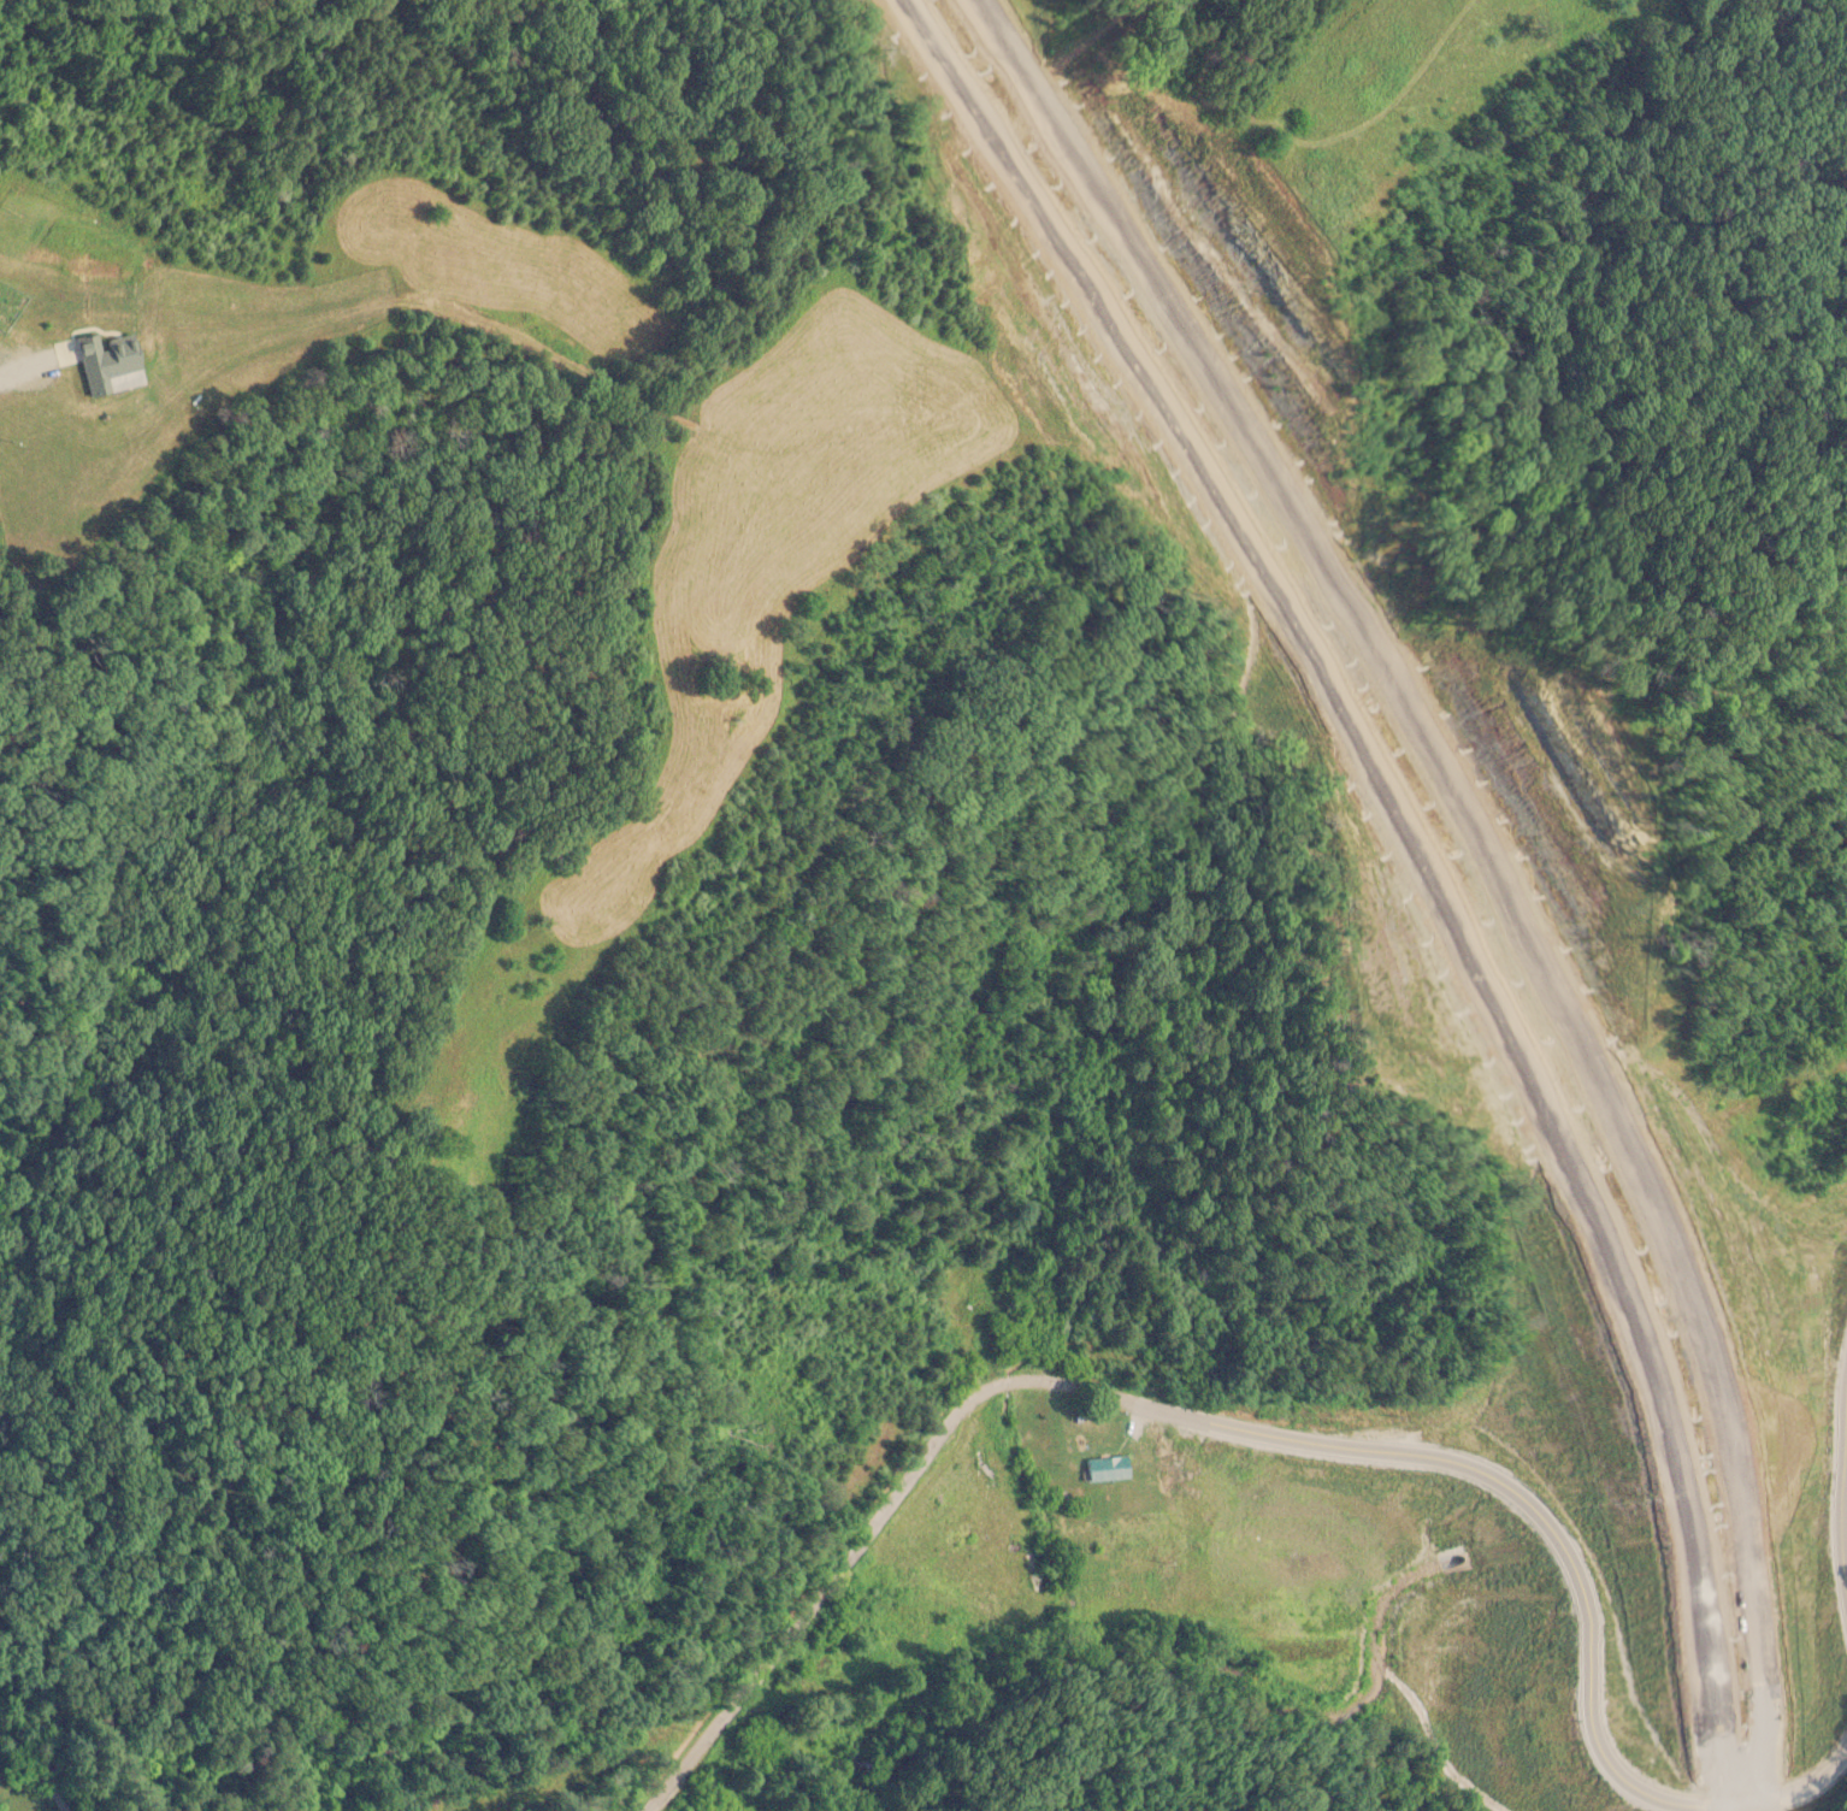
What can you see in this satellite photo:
road: (1422, 863)
road: (1483, 865)
building: (1837, 1411)
building: (1812, 1427)
road: (1259, 1434)
building: (1764, 1457)
building: (1105, 1469)
road: (1843, 1494)
building: (958, 1532)
road: (51, 1736)

